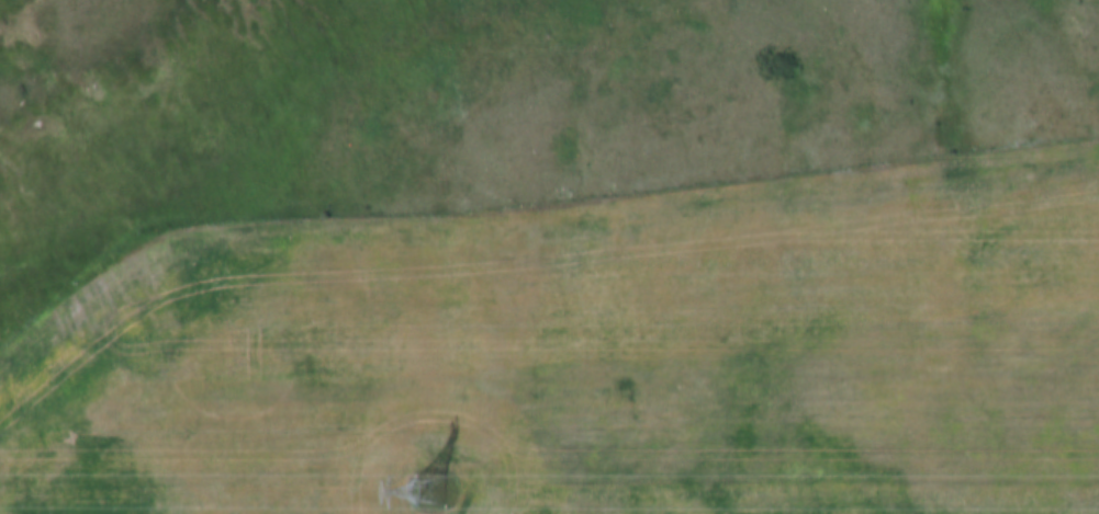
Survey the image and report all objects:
power tower: (428, 489)

